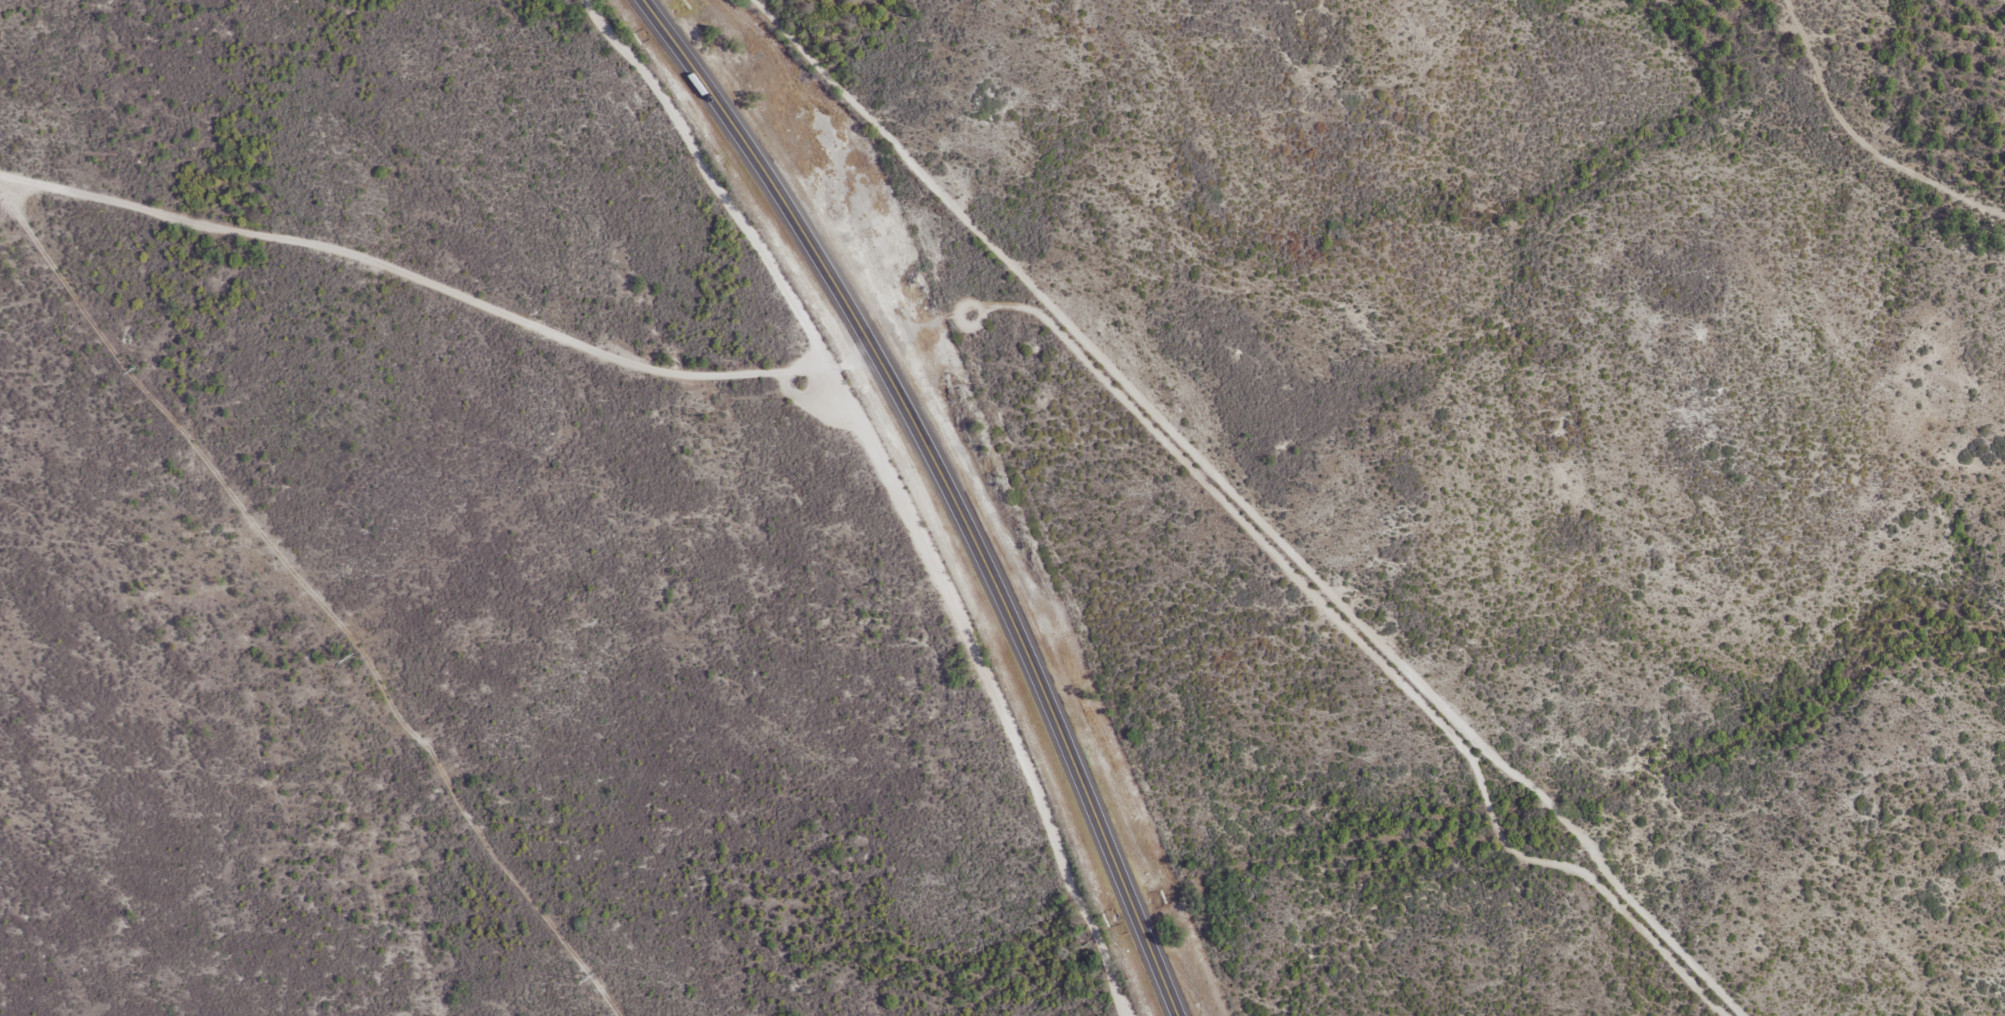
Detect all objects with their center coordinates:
road: (437, 285)
power tower: (126, 372)
road: (947, 490)
power tower: (354, 658)
road: (860, 699)
power tower: (590, 980)

